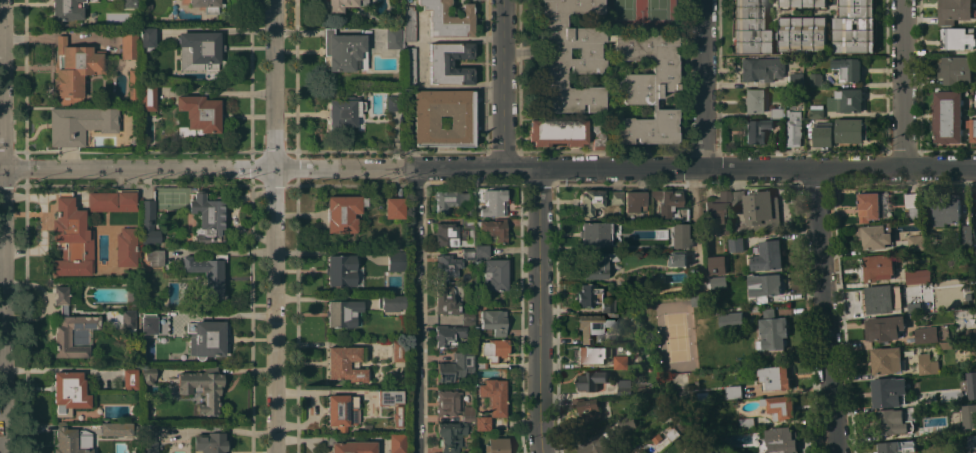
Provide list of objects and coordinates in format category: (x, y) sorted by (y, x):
building: (128, 3)
building: (803, 3)
building: (206, 5)
building: (339, 5)
building: (66, 9)
building: (784, 11)
building: (954, 11)
building: (448, 18)
building: (409, 24)
building: (751, 27)
building: (854, 27)
building: (803, 33)
road: (450, 36)
building: (146, 38)
building: (394, 38)
building: (959, 38)
building: (129, 45)
building: (199, 50)
building: (344, 50)
building: (450, 62)
building: (410, 66)
building: (74, 69)
building: (761, 69)
building: (848, 69)
building: (955, 70)
building: (584, 72)
building: (816, 79)
building: (796, 80)
building: (132, 83)
road: (503, 83)
road: (438, 84)
road: (702, 84)
road: (902, 84)
building: (147, 96)
building: (846, 100)
building: (755, 101)
building: (393, 103)
building: (817, 111)
building: (344, 112)
building: (777, 112)
building: (198, 114)
building: (947, 116)
building: (426, 121)
building: (79, 124)
building: (794, 125)
building: (971, 129)
building: (756, 130)
building: (851, 130)
building: (558, 132)
building: (823, 134)
building: (598, 136)
road: (488, 166)
road: (0, 167)
building: (615, 197)
building: (449, 199)
building: (112, 200)
building: (634, 201)
building: (666, 201)
building: (493, 202)
building: (590, 204)
building: (913, 204)
building: (868, 206)
building: (394, 207)
building: (759, 209)
building: (945, 209)
building: (719, 210)
building: (343, 212)
building: (207, 219)
building: (148, 222)
building: (467, 222)
road: (1, 226)
road: (273, 226)
building: (683, 226)
building: (495, 228)
building: (595, 233)
building: (451, 234)
building: (964, 234)
building: (874, 235)
building: (71, 238)
building: (685, 240)
building: (915, 242)
building: (736, 244)
building: (126, 246)
building: (480, 252)
building: (468, 253)
building: (767, 255)
building: (153, 256)
building: (678, 259)
building: (396, 260)
building: (594, 264)
building: (717, 265)
building: (446, 267)
building: (876, 267)
building: (341, 270)
building: (208, 272)
building: (494, 274)
building: (918, 275)
building: (718, 282)
building: (765, 286)
building: (587, 295)
building: (131, 296)
building: (697, 299)
building: (881, 299)
building: (446, 301)
building: (391, 302)
building: (607, 305)
building: (914, 306)
road: (415, 310)
road: (538, 310)
road: (823, 310)
building: (344, 313)
building: (611, 316)
building: (468, 318)
building: (128, 319)
building: (731, 320)
building: (493, 321)
building: (148, 323)
building: (72, 326)
building: (591, 326)
building: (884, 327)
building: (772, 331)
building: (448, 335)
building: (925, 335)
building: (205, 338)
building: (945, 345)
building: (494, 349)
building: (396, 351)
building: (591, 354)
building: (886, 360)
building: (621, 361)
building: (346, 363)
building: (926, 364)
building: (481, 365)
building: (455, 366)
building: (147, 374)
building: (774, 377)
building: (129, 378)
building: (591, 380)
building: (970, 385)
building: (624, 386)
building: (202, 387)
building: (961, 389)
building: (69, 392)
building: (741, 392)
road: (791, 392)
building: (886, 392)
building: (494, 395)
building: (702, 396)
building: (389, 397)
building: (933, 397)
building: (448, 403)
building: (780, 407)
building: (587, 409)
building: (341, 411)
building: (468, 413)
building: (398, 416)
building: (969, 416)
building: (895, 421)
building: (482, 423)
building: (629, 423)
building: (746, 423)
building: (116, 429)
building: (450, 436)
building: (148, 437)
building: (781, 440)
building: (972, 440)
building: (73, 441)
building: (210, 441)
building: (397, 443)
building: (596, 444)
building: (496, 445)
building: (350, 446)
building: (897, 446)
road: (658, 447)
building: (621, 452)

